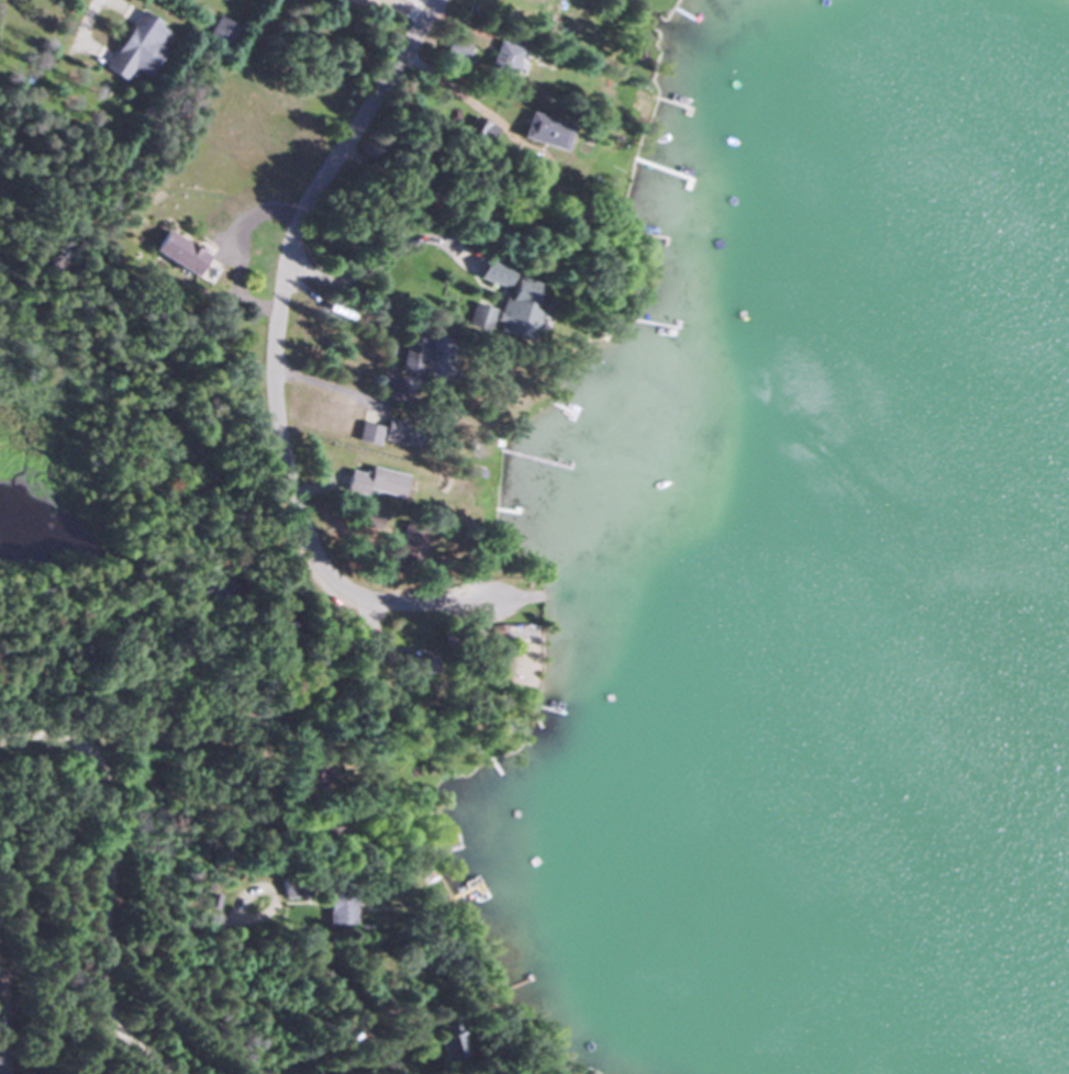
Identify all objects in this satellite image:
road: (82, 21)
building: (219, 33)
building: (134, 47)
building: (542, 132)
building: (171, 254)
road: (374, 267)
building: (490, 272)
building: (514, 310)
building: (477, 317)
building: (422, 358)
road: (271, 376)
building: (396, 432)
building: (366, 434)
building: (380, 479)
building: (401, 544)
road: (510, 635)
road: (133, 731)
building: (291, 886)
road: (100, 902)
building: (335, 904)
road: (219, 924)
building: (445, 1040)
road: (94, 1042)

